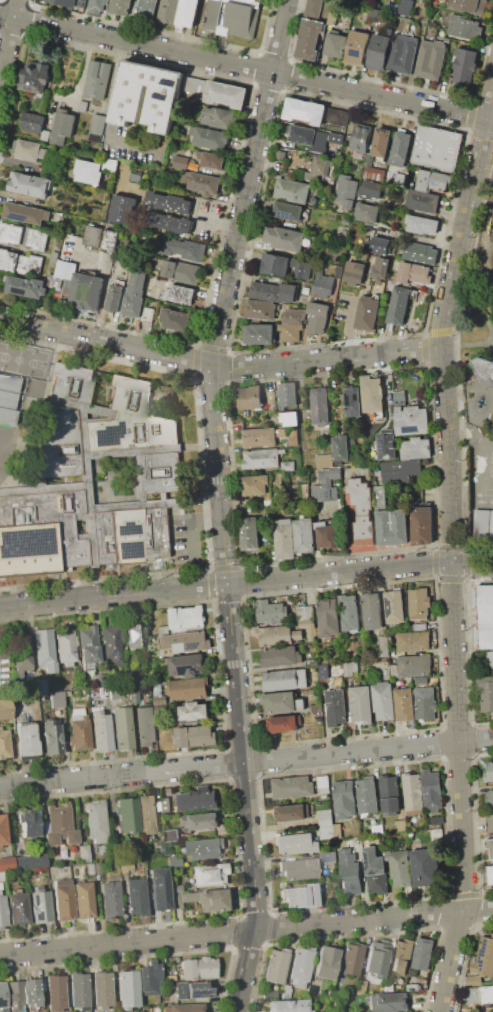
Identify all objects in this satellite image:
building: (347, 0)
building: (62, 2)
building: (97, 6)
building: (469, 6)
building: (120, 7)
building: (391, 7)
building: (405, 7)
building: (313, 8)
building: (147, 10)
building: (168, 10)
building: (188, 12)
building: (373, 13)
building: (232, 17)
building: (332, 18)
building: (464, 27)
building: (309, 39)
road: (9, 44)
building: (334, 44)
building: (357, 47)
building: (378, 52)
building: (402, 54)
building: (430, 59)
building: (464, 65)
road: (246, 67)
building: (35, 76)
building: (96, 79)
building: (194, 84)
road: (146, 94)
building: (226, 94)
building: (162, 103)
building: (83, 106)
building: (304, 111)
building: (337, 115)
building: (219, 117)
building: (33, 121)
building: (63, 126)
building: (97, 127)
building: (192, 130)
building: (303, 134)
building: (211, 138)
building: (361, 138)
road: (133, 140)
building: (335, 141)
building: (382, 142)
building: (401, 146)
building: (437, 147)
building: (29, 150)
building: (188, 153)
building: (280, 153)
building: (211, 159)
building: (368, 161)
building: (181, 162)
building: (110, 165)
building: (321, 165)
building: (88, 171)
building: (374, 173)
building: (400, 178)
building: (423, 180)
building: (441, 181)
building: (201, 182)
road: (250, 182)
building: (30, 184)
building: (372, 188)
building: (293, 190)
building: (345, 191)
building: (422, 200)
building: (168, 202)
building: (123, 209)
building: (288, 210)
building: (25, 213)
building: (367, 213)
road: (217, 220)
building: (168, 222)
road: (465, 222)
building: (421, 224)
building: (11, 232)
building: (93, 235)
building: (35, 238)
building: (284, 238)
building: (110, 239)
building: (380, 243)
building: (67, 245)
building: (185, 248)
building: (419, 252)
building: (54, 256)
building: (8, 260)
building: (354, 261)
building: (30, 264)
building: (276, 264)
building: (381, 266)
building: (301, 268)
building: (65, 269)
building: (182, 270)
building: (352, 272)
building: (413, 274)
road: (105, 282)
building: (322, 283)
building: (27, 286)
building: (306, 290)
building: (86, 291)
building: (265, 291)
building: (289, 291)
building: (135, 294)
building: (178, 294)
building: (115, 297)
building: (346, 300)
building: (399, 305)
building: (318, 308)
building: (261, 310)
building: (367, 312)
building: (148, 315)
building: (292, 316)
building: (176, 319)
building: (316, 324)
building: (291, 332)
building: (260, 334)
road: (106, 341)
road: (327, 359)
building: (483, 370)
building: (9, 383)
building: (287, 394)
building: (250, 396)
building: (372, 396)
building: (271, 398)
building: (7, 399)
building: (353, 402)
building: (320, 406)
building: (7, 416)
building: (291, 418)
building: (411, 420)
building: (259, 437)
building: (293, 440)
building: (387, 445)
building: (416, 448)
building: (341, 450)
building: (261, 458)
building: (324, 461)
building: (288, 465)
building: (402, 471)
building: (333, 474)
building: (94, 480)
building: (254, 485)
building: (306, 493)
building: (325, 494)
building: (380, 497)
building: (362, 510)
road: (190, 520)
building: (423, 525)
building: (481, 525)
building: (392, 526)
building: (491, 526)
building: (250, 534)
building: (304, 536)
building: (329, 536)
building: (284, 539)
traffic signals: (454, 562)
road: (246, 583)
building: (418, 605)
building: (393, 608)
building: (270, 613)
building: (372, 613)
building: (349, 614)
building: (485, 616)
building: (187, 617)
building: (307, 620)
building: (328, 624)
building: (420, 626)
building: (164, 629)
building: (135, 635)
building: (277, 637)
building: (190, 641)
building: (412, 641)
building: (167, 642)
building: (111, 644)
building: (65, 647)
building: (384, 647)
building: (87, 648)
building: (43, 649)
building: (279, 657)
building: (490, 659)
building: (187, 665)
building: (414, 668)
building: (347, 670)
building: (130, 677)
building: (285, 679)
road: (458, 680)
building: (40, 686)
building: (189, 688)
building: (157, 689)
road: (238, 689)
building: (485, 693)
building: (83, 695)
building: (133, 697)
building: (56, 699)
building: (159, 699)
building: (278, 703)
building: (383, 703)
building: (300, 704)
building: (424, 704)
building: (359, 705)
building: (403, 705)
building: (5, 709)
building: (314, 710)
building: (335, 710)
building: (194, 711)
building: (282, 725)
building: (145, 726)
building: (121, 728)
building: (78, 731)
building: (100, 732)
building: (201, 735)
building: (50, 737)
building: (182, 737)
building: (25, 740)
building: (5, 744)
road: (246, 762)
building: (489, 772)
building: (323, 781)
building: (292, 787)
building: (431, 790)
building: (413, 794)
building: (366, 795)
building: (389, 795)
building: (197, 799)
building: (344, 800)
building: (490, 800)
building: (165, 804)
building: (159, 805)
building: (292, 812)
building: (127, 814)
building: (148, 814)
building: (185, 820)
building: (204, 821)
building: (96, 823)
building: (28, 824)
building: (325, 824)
building: (401, 824)
building: (490, 824)
building: (59, 826)
building: (377, 829)
building: (2, 830)
building: (337, 830)
building: (171, 835)
building: (297, 843)
building: (354, 843)
building: (490, 847)
building: (161, 848)
building: (205, 848)
building: (83, 849)
building: (328, 855)
building: (83, 858)
building: (174, 861)
building: (28, 862)
building: (6, 864)
building: (125, 867)
building: (400, 867)
building: (89, 868)
building: (425, 868)
building: (298, 869)
building: (376, 871)
building: (208, 874)
building: (490, 875)
building: (1, 876)
building: (350, 877)
building: (159, 888)
building: (175, 888)
building: (136, 896)
building: (300, 896)
building: (187, 897)
building: (83, 899)
building: (110, 899)
building: (211, 899)
building: (62, 900)
building: (176, 900)
building: (40, 905)
building: (17, 907)
building: (2, 914)
road: (246, 933)
building: (423, 954)
building: (401, 957)
building: (484, 957)
building: (350, 959)
building: (376, 959)
building: (325, 961)
building: (275, 966)
building: (300, 966)
building: (197, 968)
building: (149, 978)
building: (474, 979)
building: (360, 987)
building: (390, 988)
building: (102, 990)
building: (127, 990)
building: (193, 990)
building: (78, 991)
building: (286, 991)
building: (312, 991)
building: (31, 992)
building: (55, 993)
building: (487, 993)
building: (472, 995)
building: (13, 996)
building: (2, 998)
building: (388, 1002)
building: (287, 1005)
building: (182, 1008)

